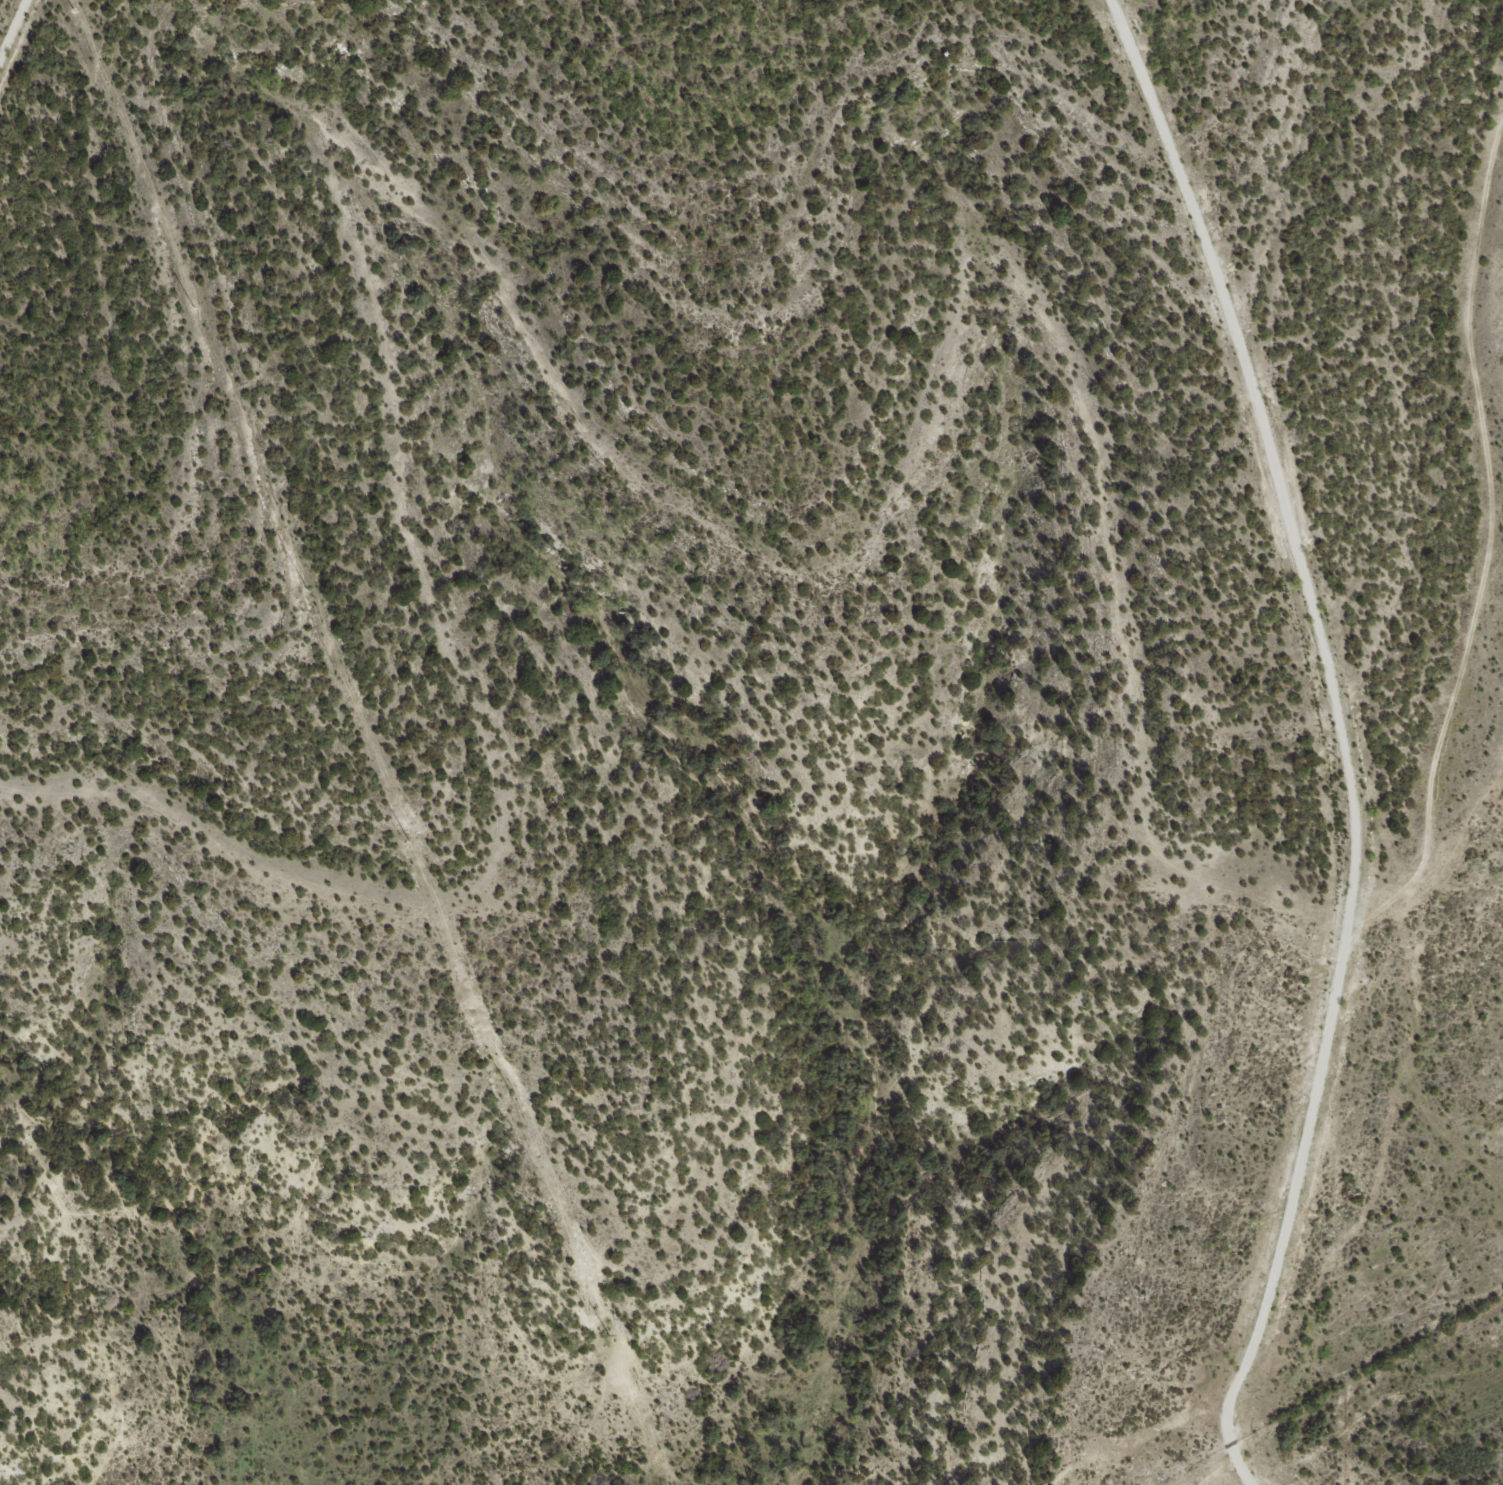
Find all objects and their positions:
power tower: (73, 11)
power tower: (193, 308)
power tower: (306, 590)
power tower: (408, 839)
road: (1412, 1030)
power tower: (512, 1092)
power tower: (608, 1336)
road: (1354, 1408)

